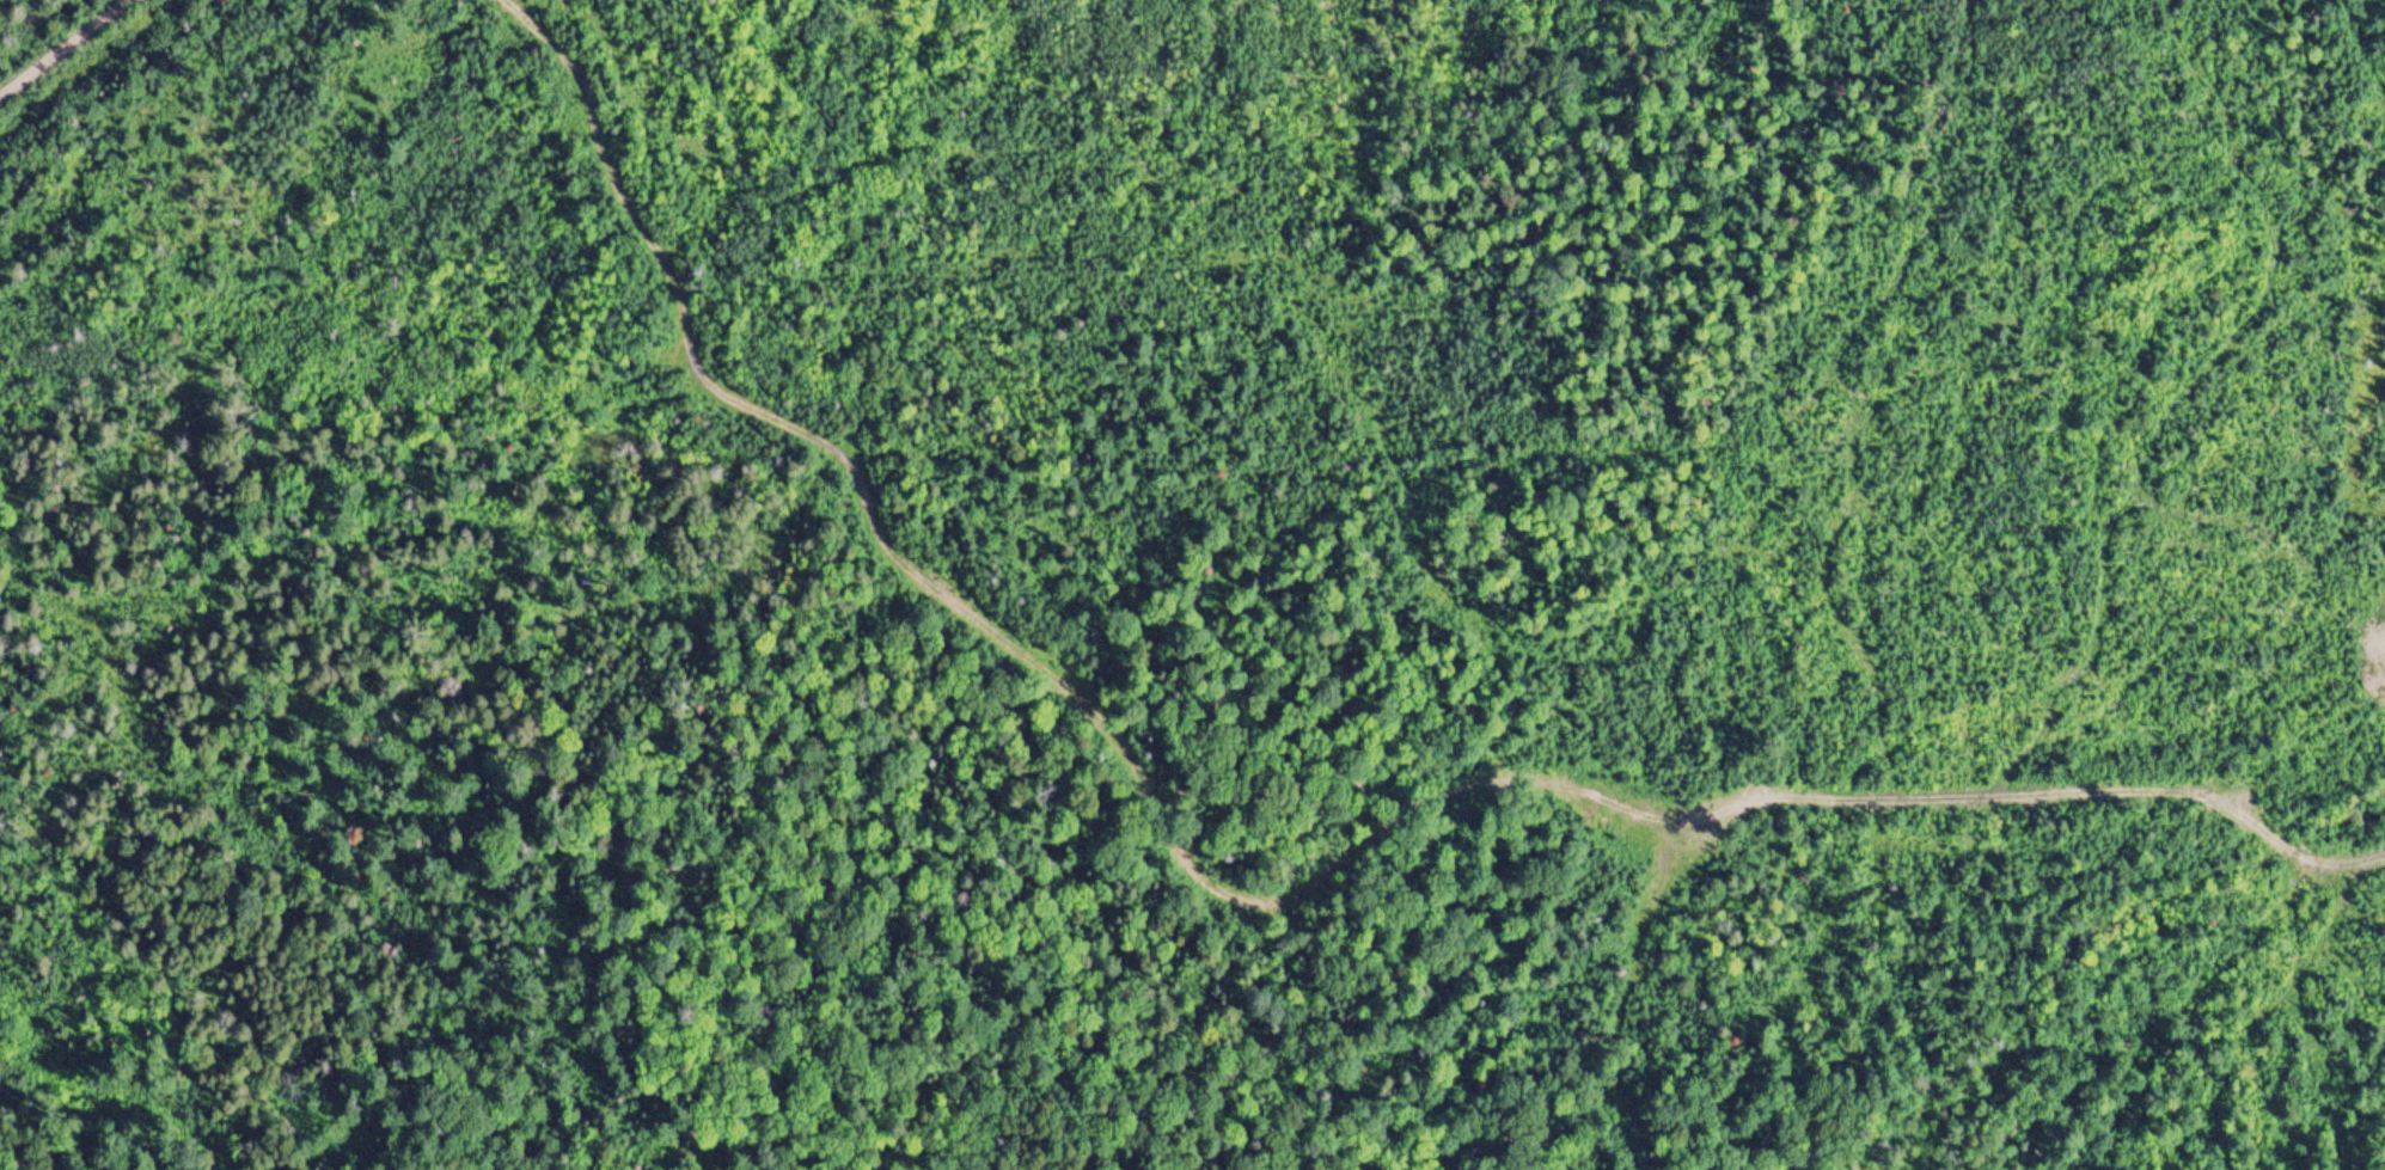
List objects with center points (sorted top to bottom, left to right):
road: (65, 47)

